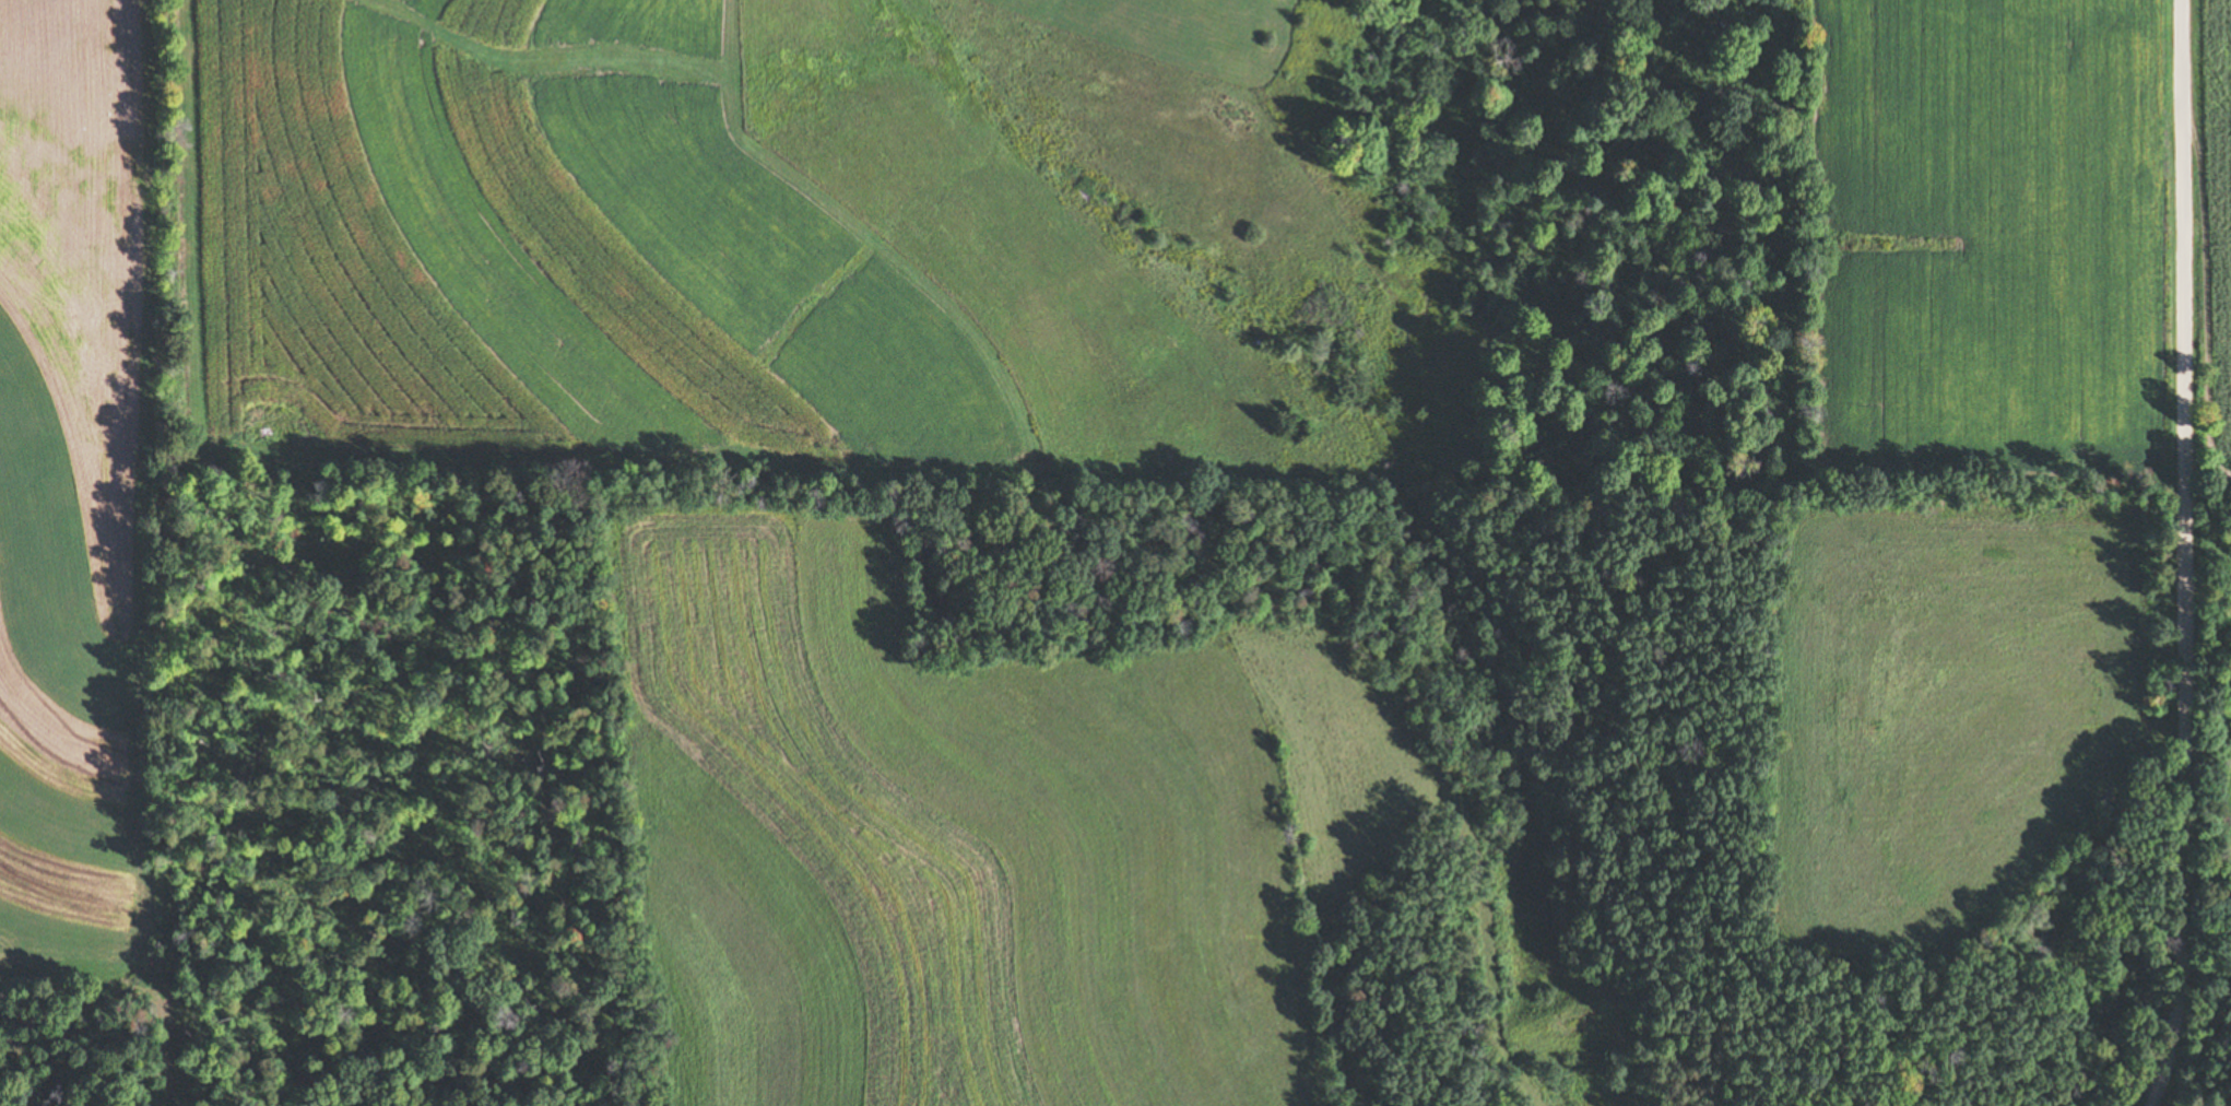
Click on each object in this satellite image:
crop: (1165, 26)
crop: (2208, 227)
crop: (1998, 232)
crop: (555, 249)
crop: (68, 467)
road: (2187, 554)
crop: (1934, 716)
crop: (981, 833)

